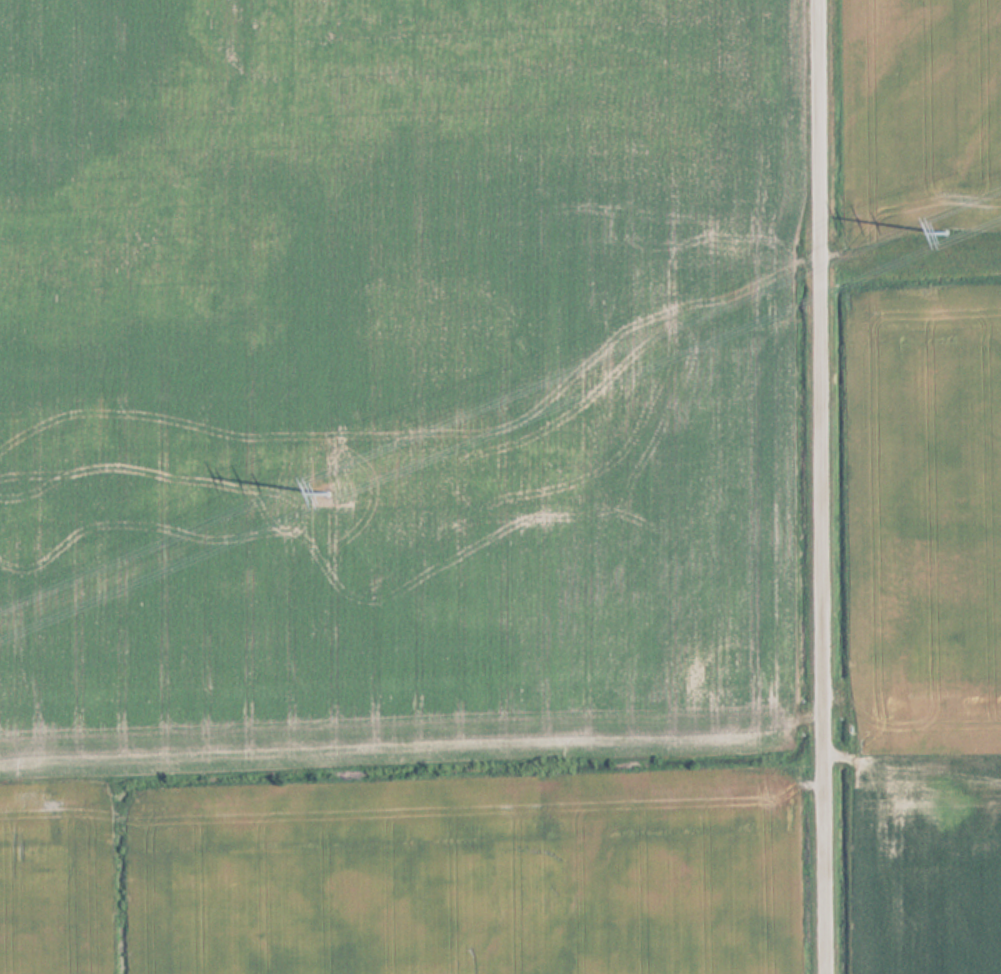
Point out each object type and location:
power tower: (952, 233)
road: (827, 487)
power tower: (335, 493)

